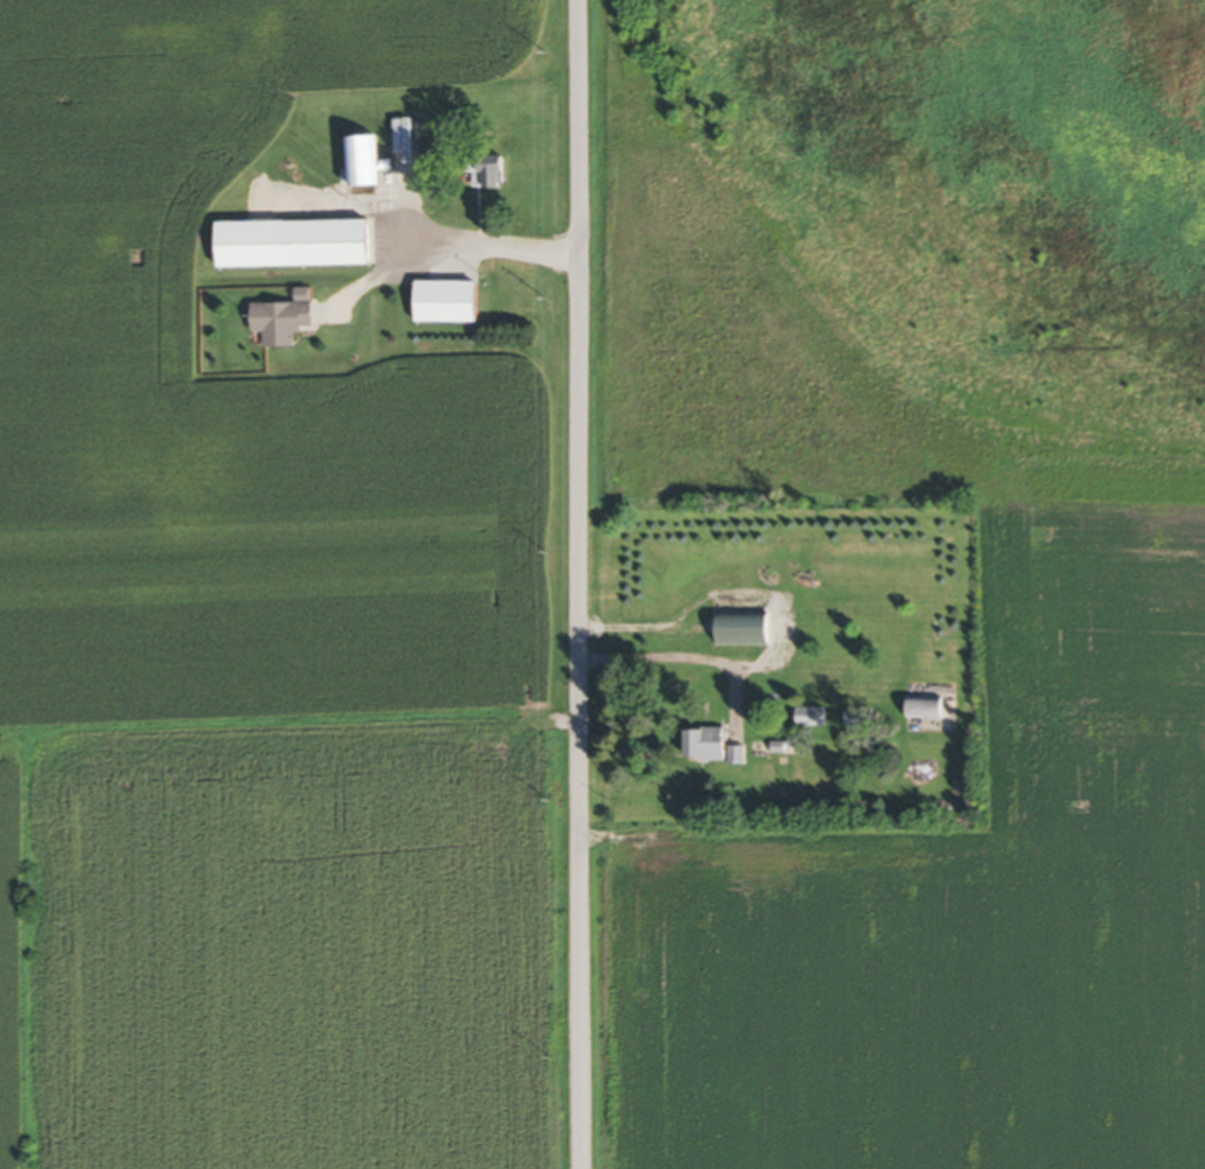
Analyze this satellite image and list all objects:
building: (412, 142)
building: (366, 166)
building: (490, 177)
building: (301, 247)
road: (484, 249)
building: (453, 305)
building: (285, 323)
road: (580, 584)
road: (778, 616)
building: (747, 632)
building: (929, 712)
building: (815, 720)
building: (861, 722)
building: (718, 748)

